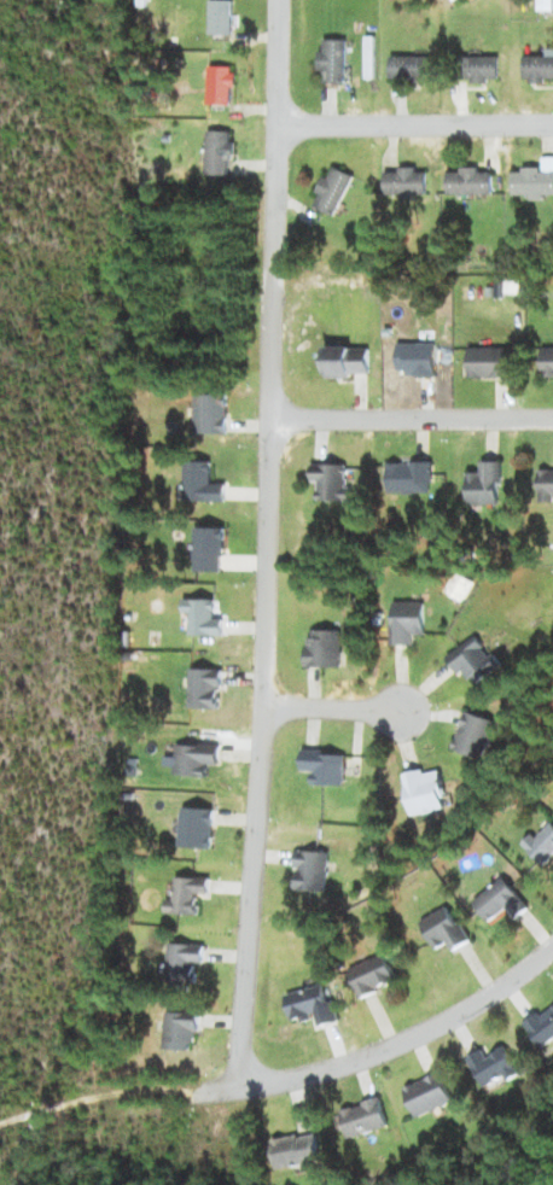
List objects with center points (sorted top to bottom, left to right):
building: (220, 18)
building: (333, 60)
building: (477, 68)
building: (539, 68)
building: (412, 69)
building: (219, 86)
road: (413, 128)
building: (220, 152)
building: (407, 181)
building: (472, 181)
building: (535, 181)
building: (334, 189)
building: (419, 360)
building: (347, 361)
building: (490, 361)
building: (547, 361)
building: (213, 413)
road: (411, 420)
building: (409, 478)
building: (332, 480)
building: (202, 483)
building: (546, 483)
building: (485, 484)
road: (266, 542)
building: (209, 549)
building: (461, 586)
building: (200, 618)
building: (407, 621)
building: (322, 648)
building: (473, 662)
building: (203, 689)
road: (334, 705)
building: (471, 736)
building: (193, 759)
building: (324, 767)
building: (421, 792)
building: (196, 828)
building: (542, 842)
building: (309, 870)
building: (187, 893)
building: (500, 900)
building: (444, 928)
building: (185, 963)
building: (372, 975)
building: (312, 1004)
building: (542, 1026)
building: (180, 1028)
road: (394, 1045)
building: (493, 1066)
building: (429, 1093)
building: (365, 1117)
building: (296, 1150)

